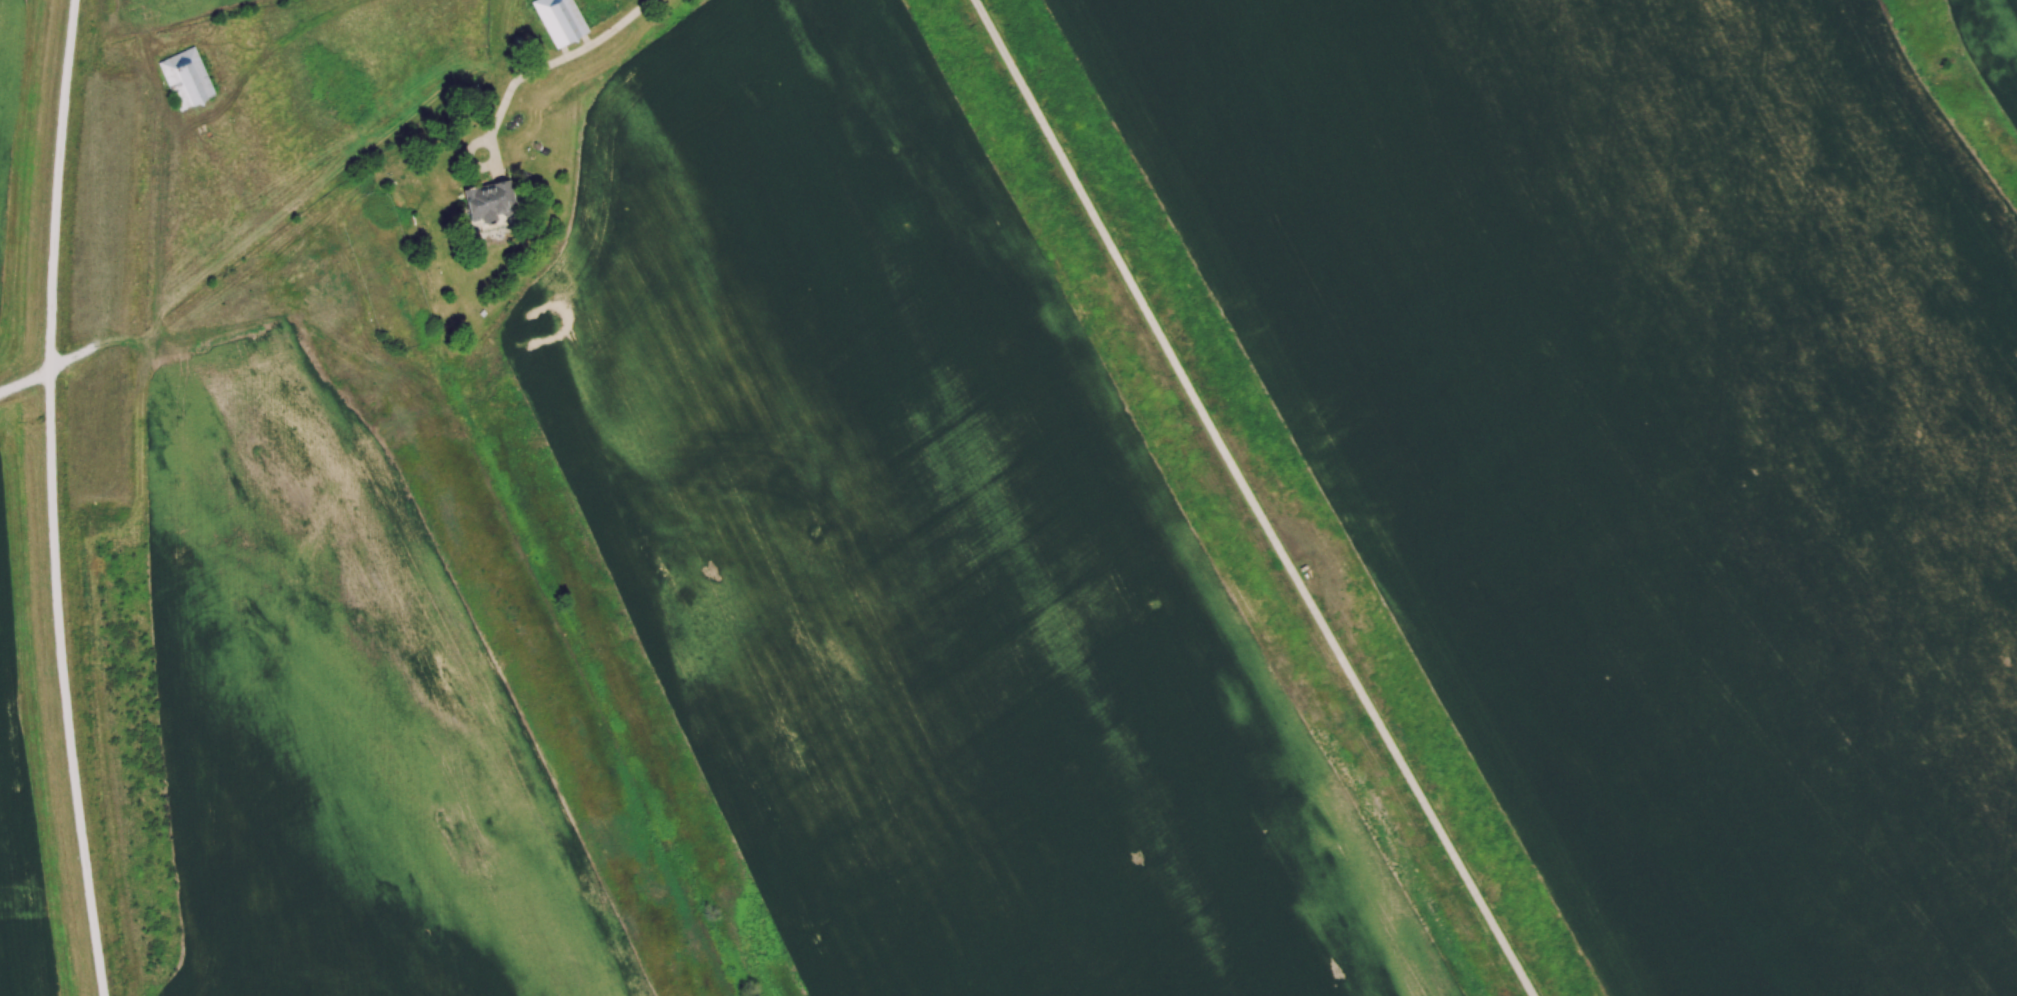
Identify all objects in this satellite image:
road: (551, 62)
crop: (3, 67)
road: (463, 157)
crop: (1645, 438)
road: (49, 498)
road: (1247, 500)
crop: (926, 551)
crop: (349, 717)
crop: (22, 819)

